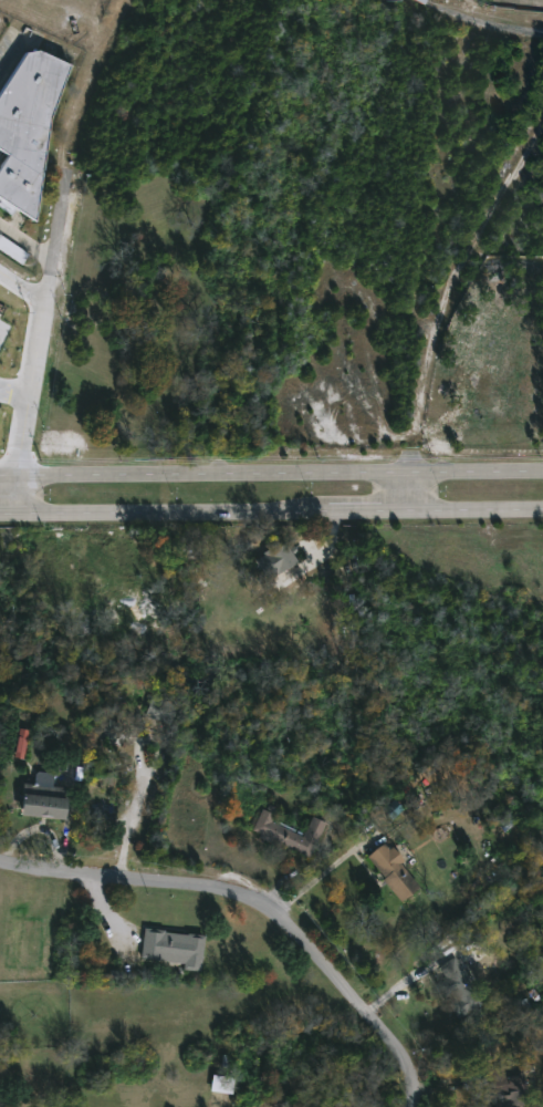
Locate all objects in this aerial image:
road: (477, 27)
road: (12, 60)
building: (30, 127)
road: (62, 234)
road: (27, 242)
road: (14, 392)
road: (271, 474)
road: (410, 493)
road: (18, 496)
road: (477, 510)
road: (368, 513)
road: (173, 514)
road: (9, 516)
building: (275, 560)
building: (160, 711)
building: (107, 731)
building: (22, 744)
road: (140, 785)
building: (46, 797)
building: (291, 830)
building: (525, 868)
building: (395, 871)
road: (316, 876)
road: (220, 889)
building: (176, 949)
road: (408, 980)
building: (457, 989)
road: (408, 1066)
building: (221, 1084)
building: (512, 1093)
road: (289, 1103)

